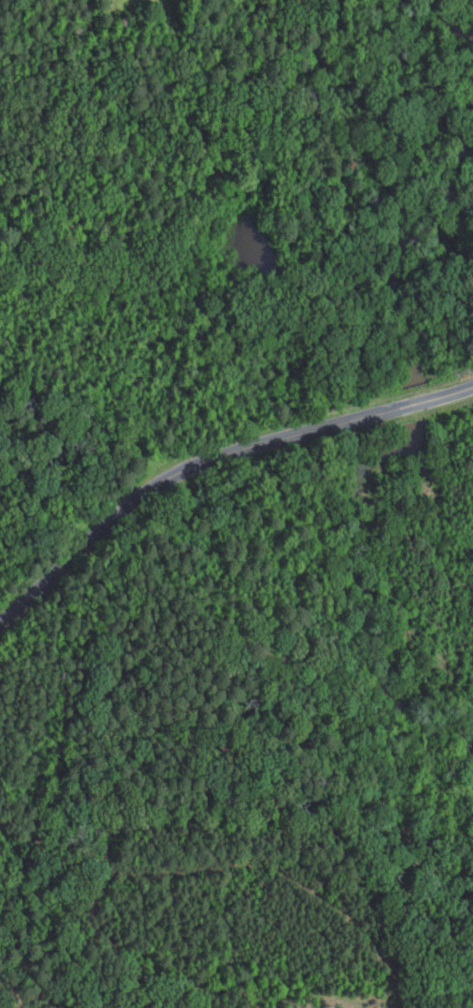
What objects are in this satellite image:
road: (266, 434)
road: (44, 580)

